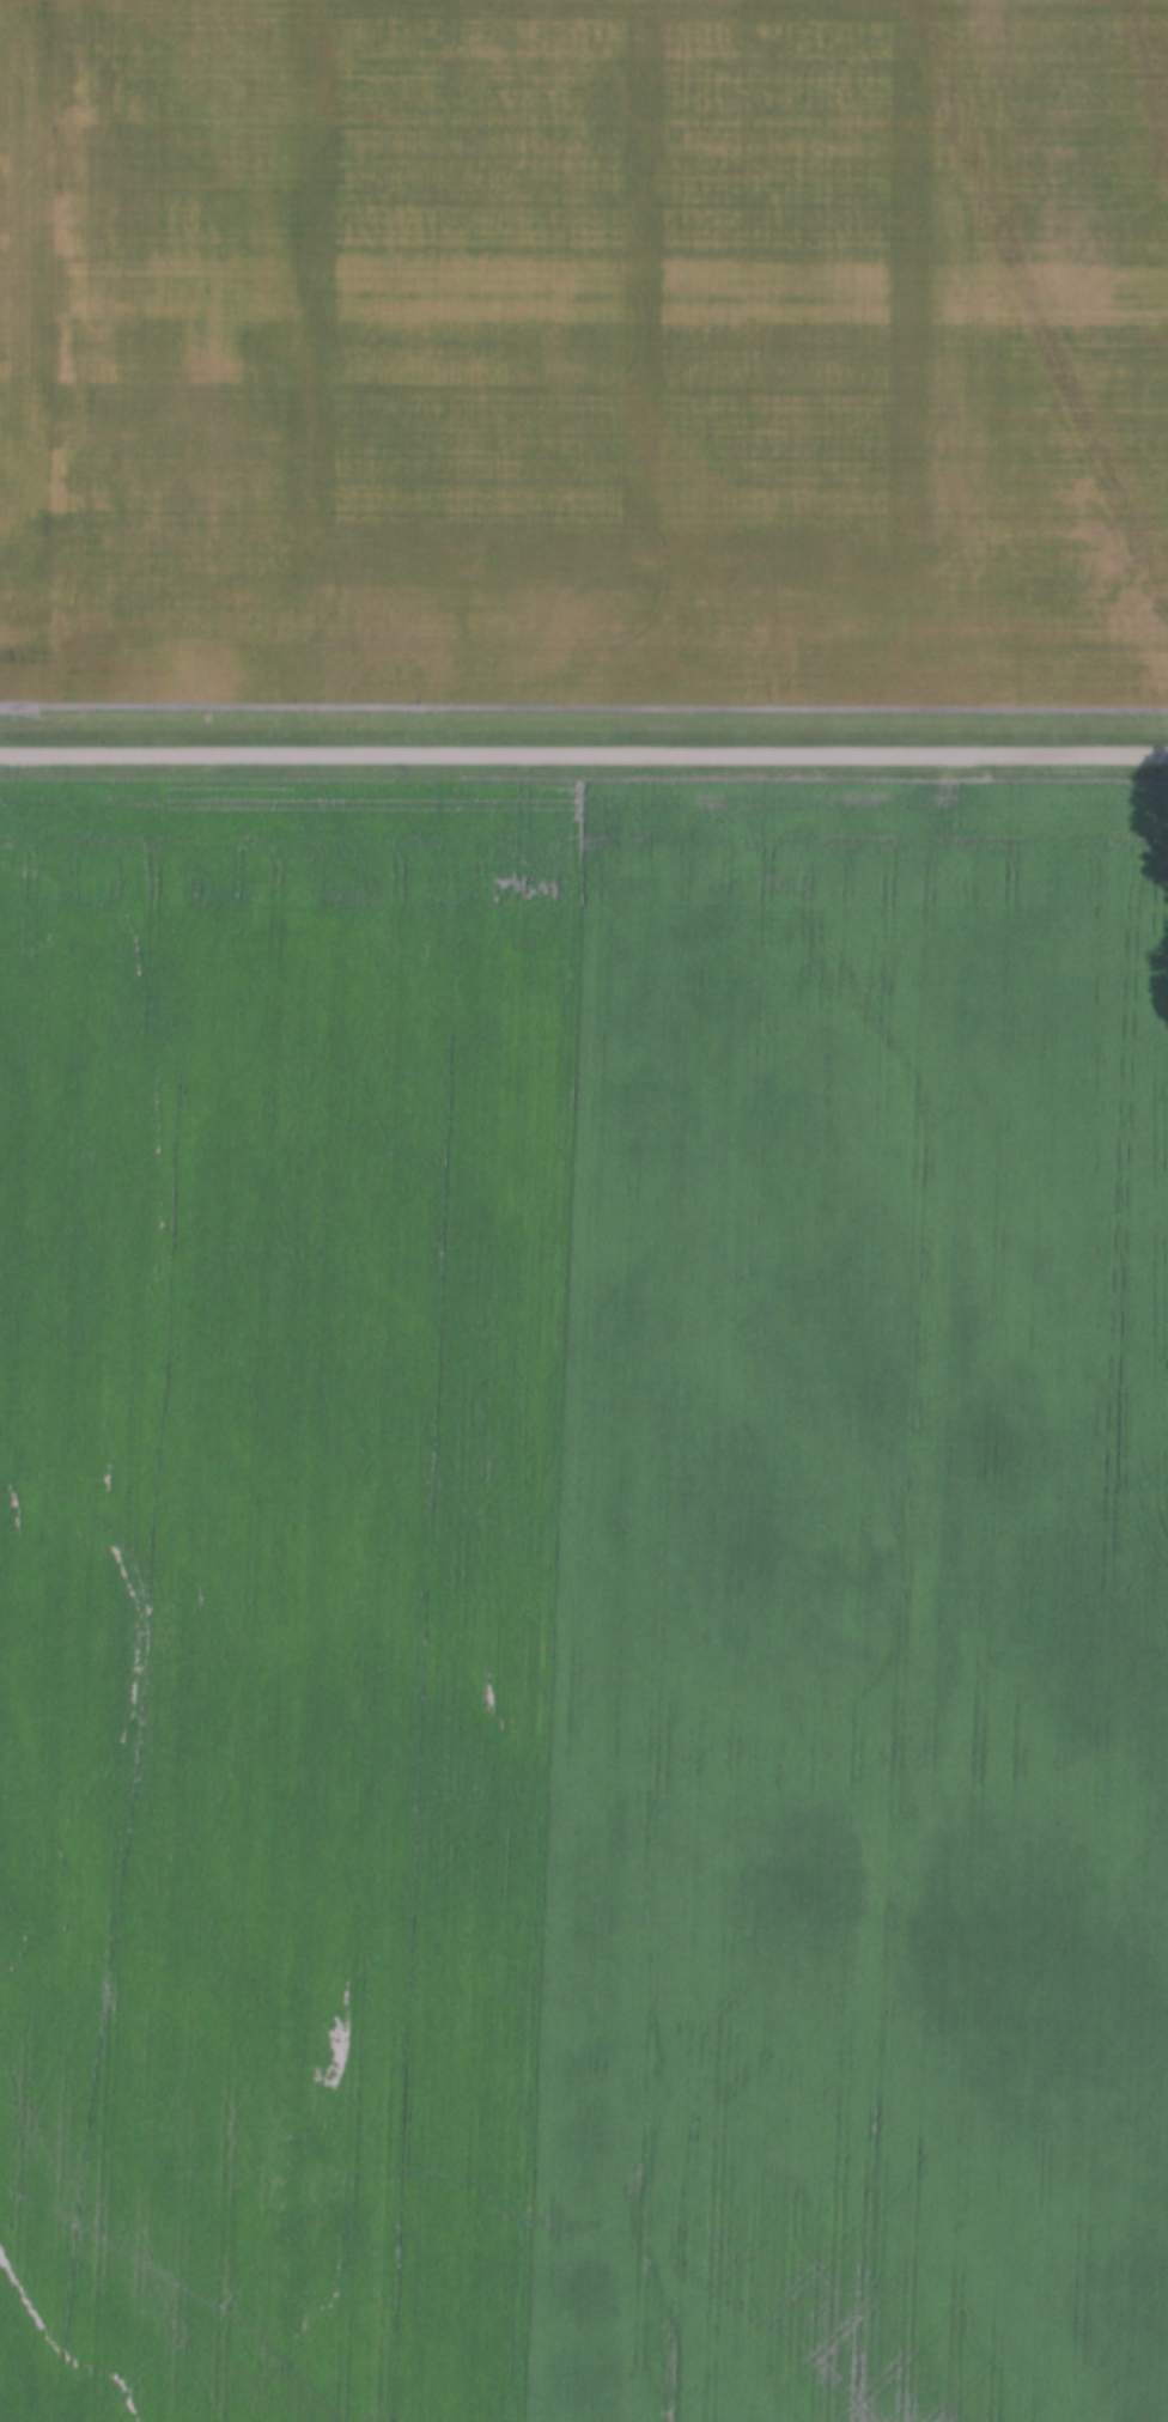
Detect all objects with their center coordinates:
road: (584, 754)

